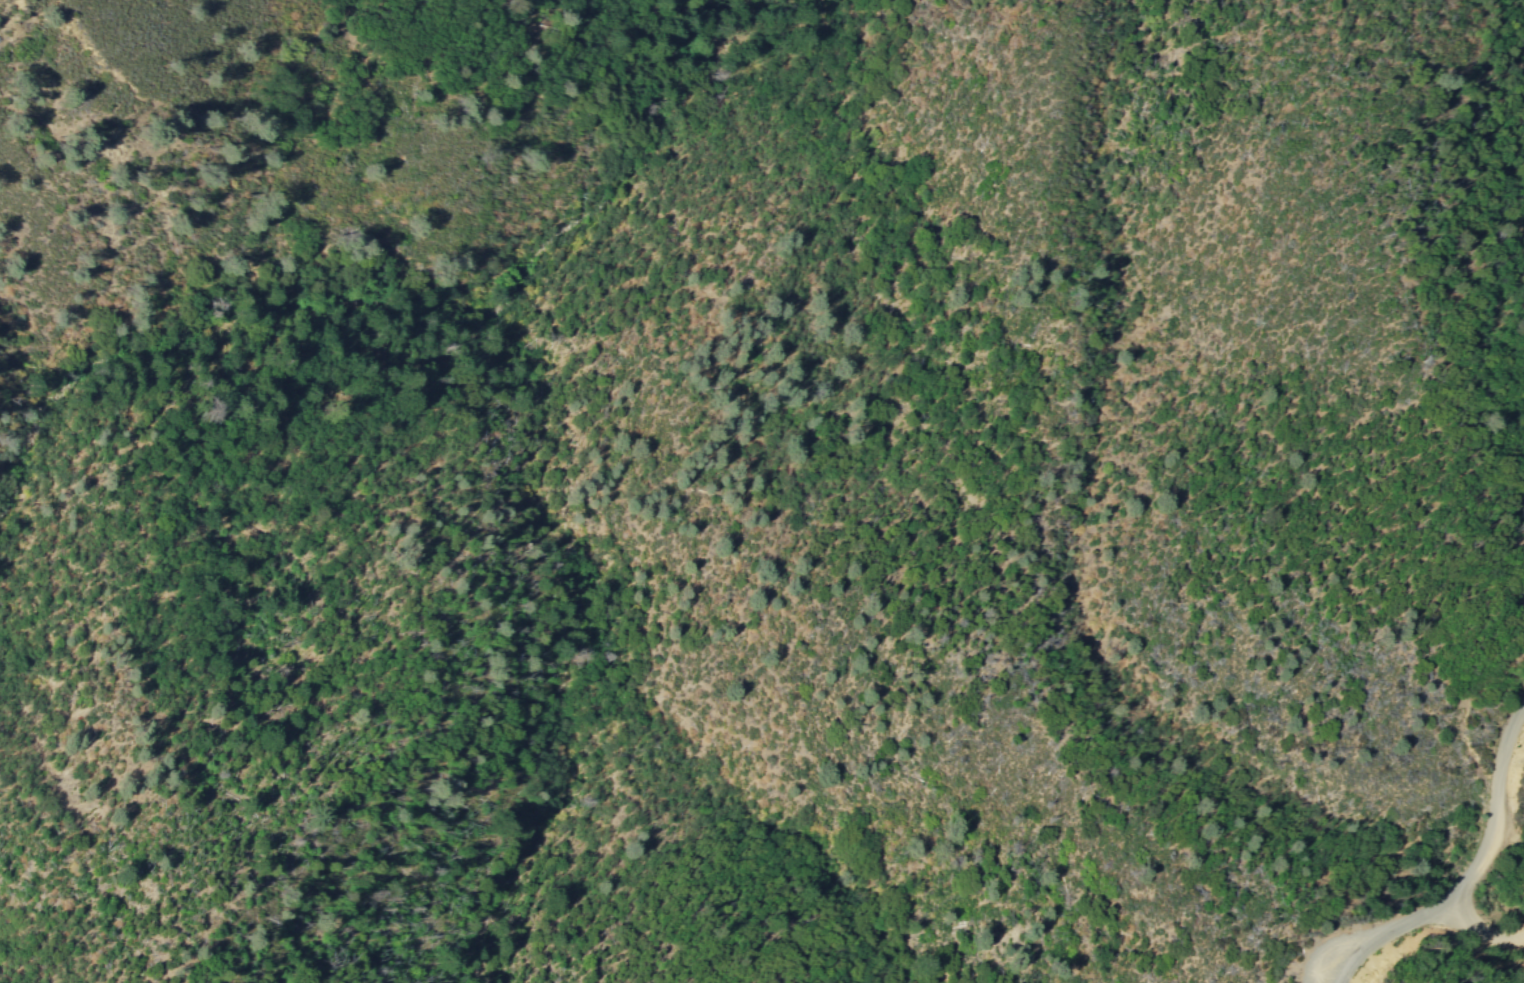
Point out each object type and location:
road: (1496, 808)
road: (1489, 921)
road: (1397, 929)

